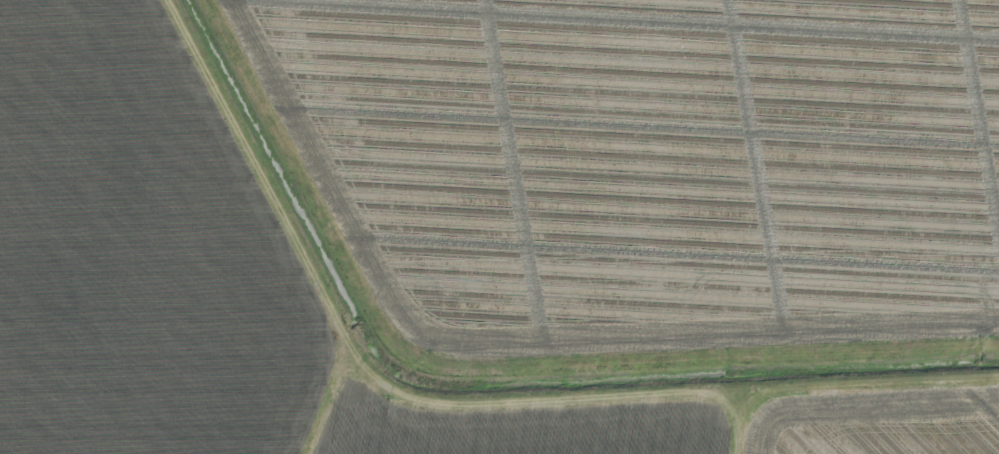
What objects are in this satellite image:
road: (336, 404)
road: (467, 406)
road: (745, 423)

